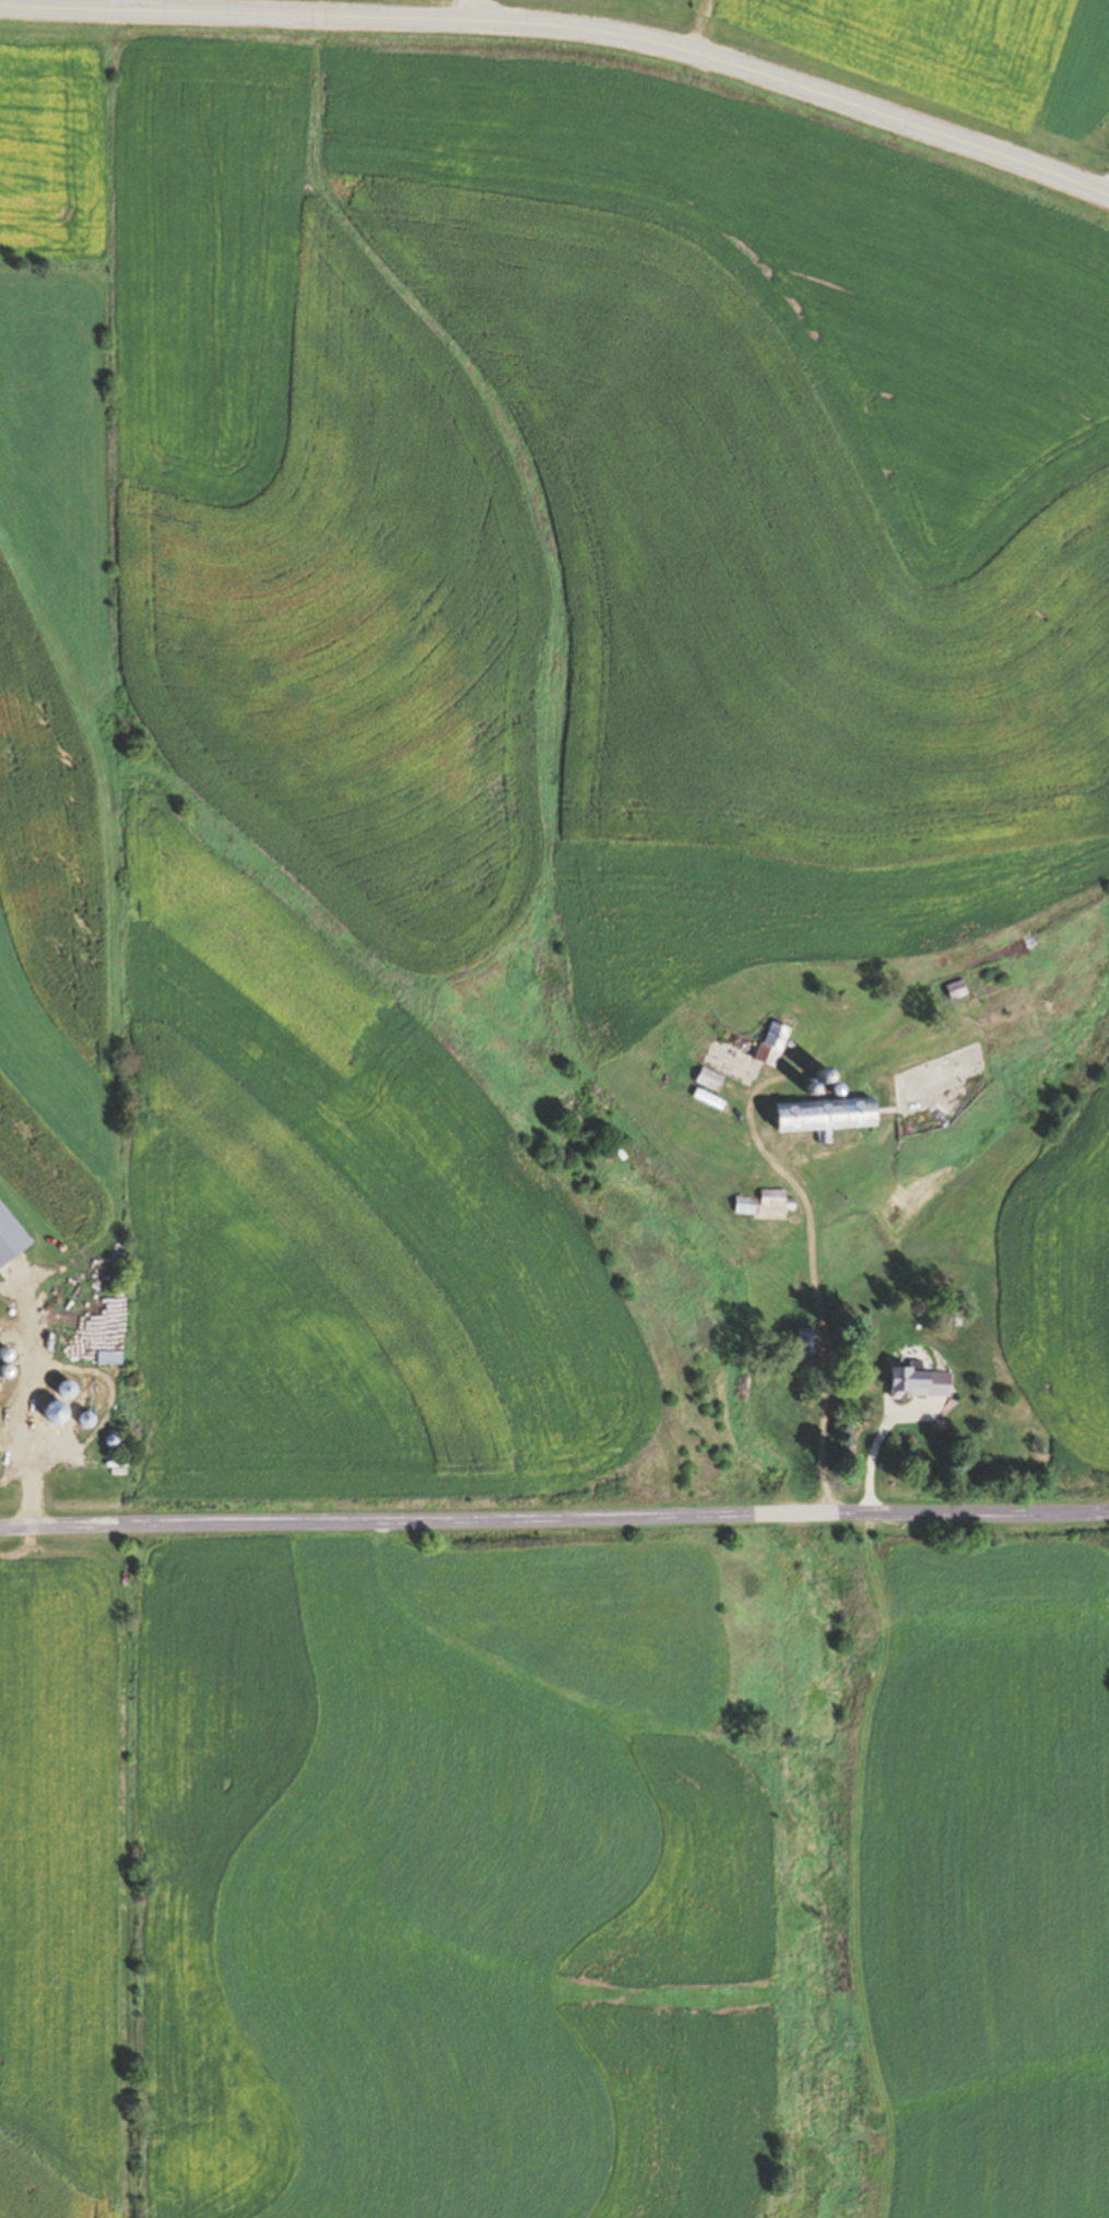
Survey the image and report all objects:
road: (567, 33)
road: (1106, 194)
building: (959, 990)
building: (775, 1043)
building: (711, 1079)
building: (710, 1099)
building: (830, 1114)
building: (775, 1198)
building: (746, 1205)
building: (806, 1342)
building: (111, 1358)
building: (922, 1383)
building: (70, 1390)
building: (90, 1420)
building: (33, 1431)
road: (554, 1508)

